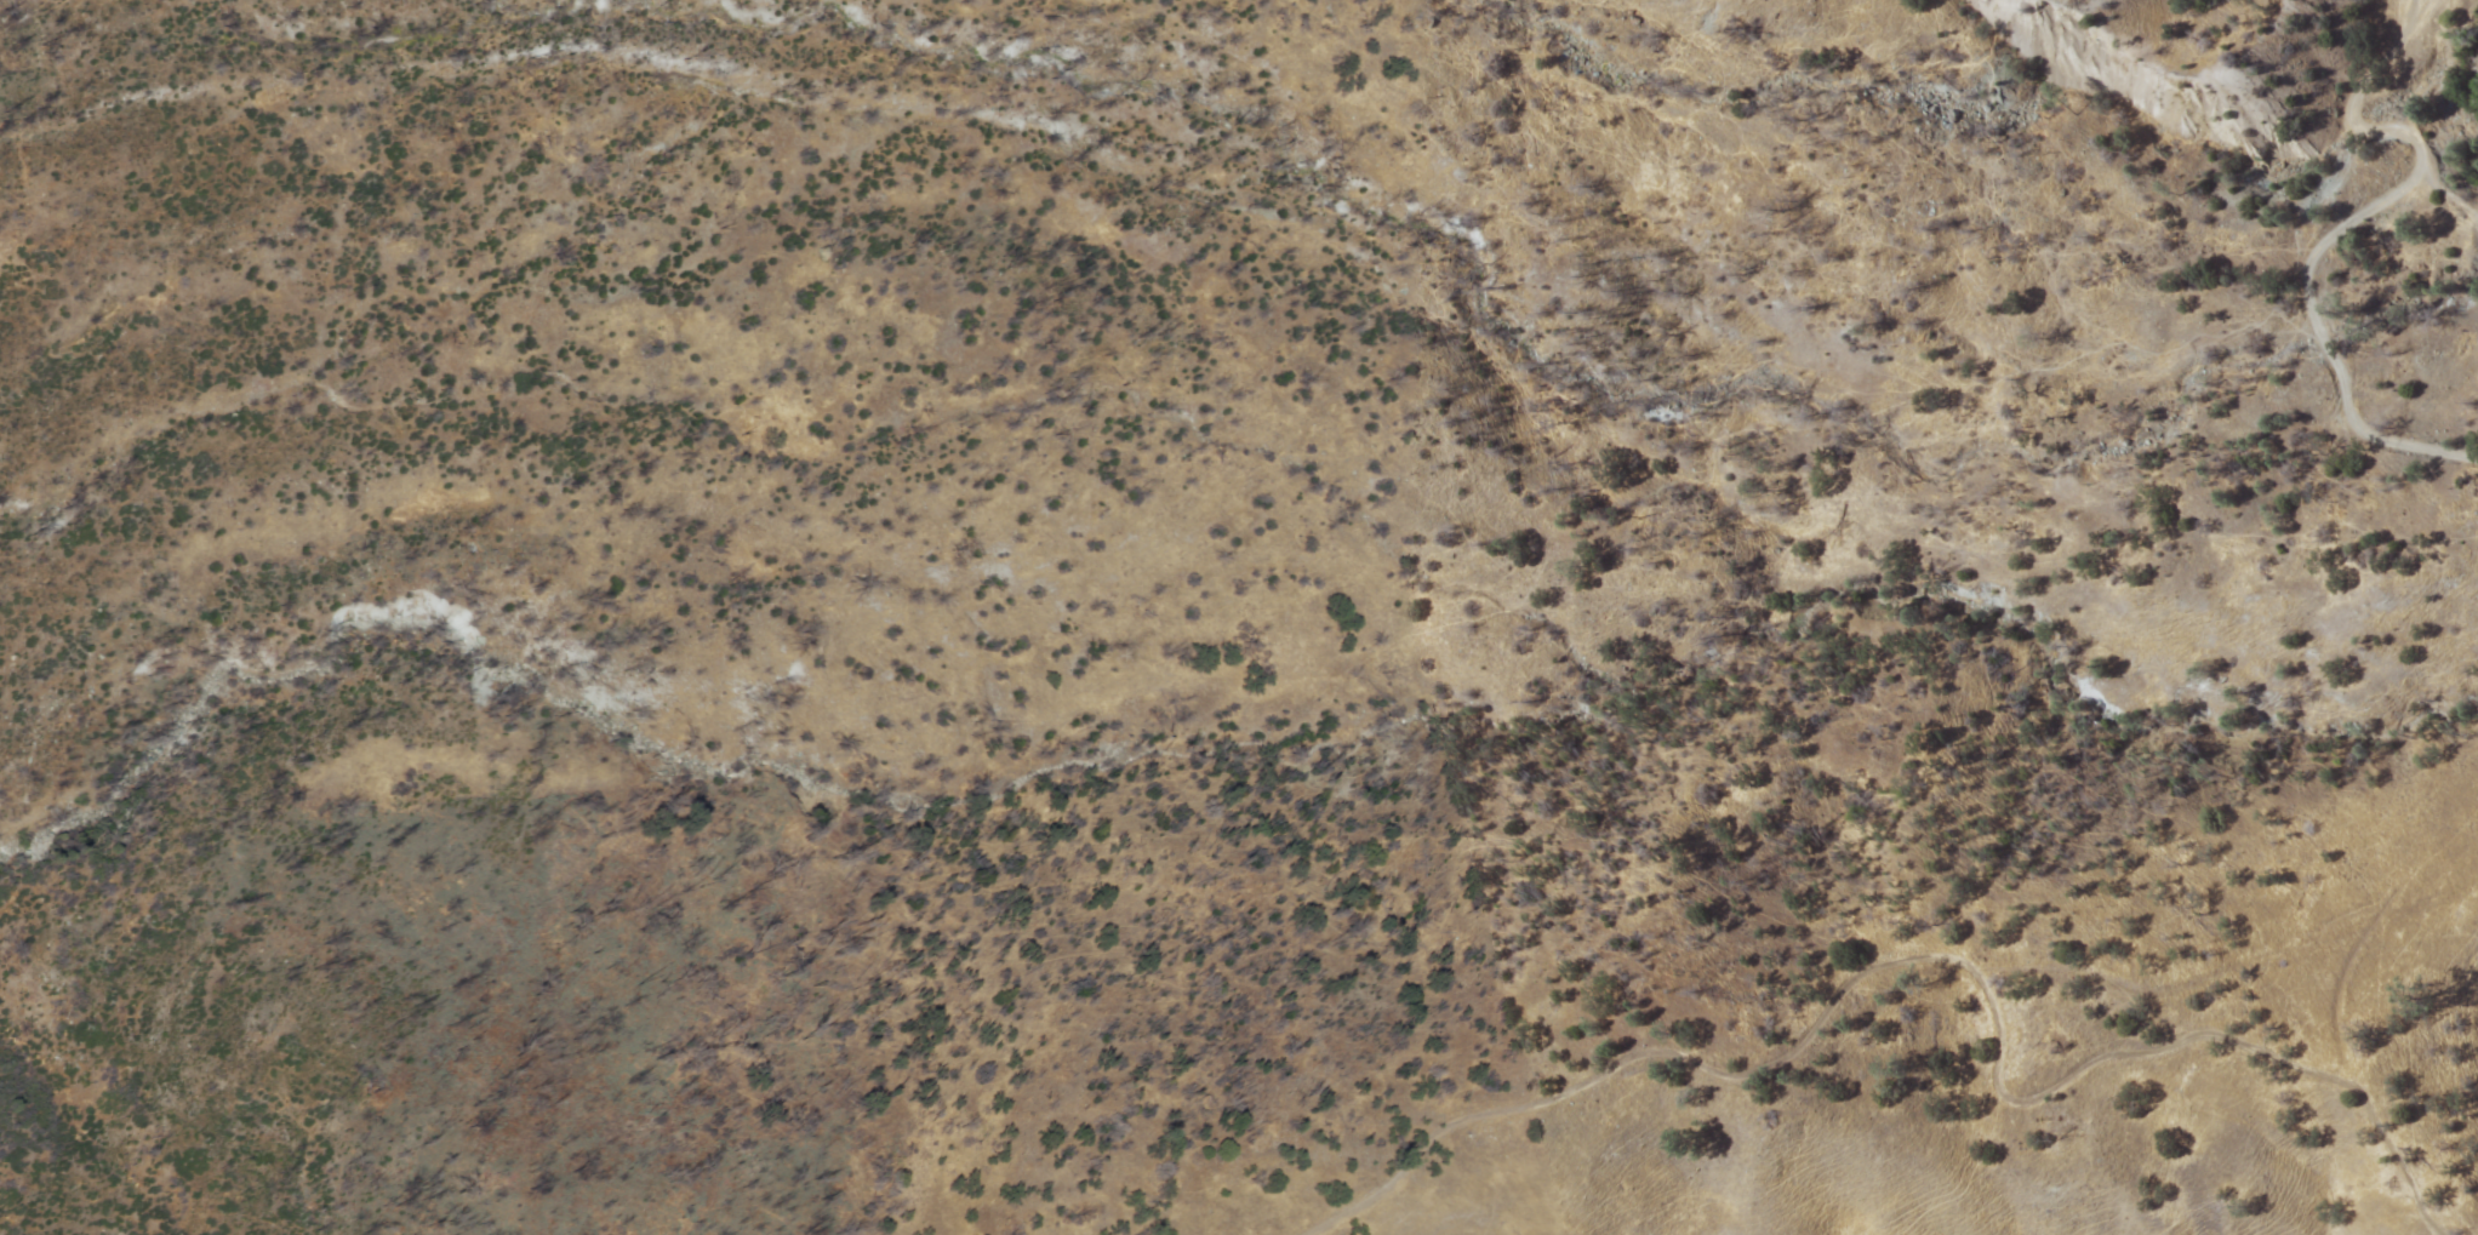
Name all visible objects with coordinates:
road: (2339, 230)

